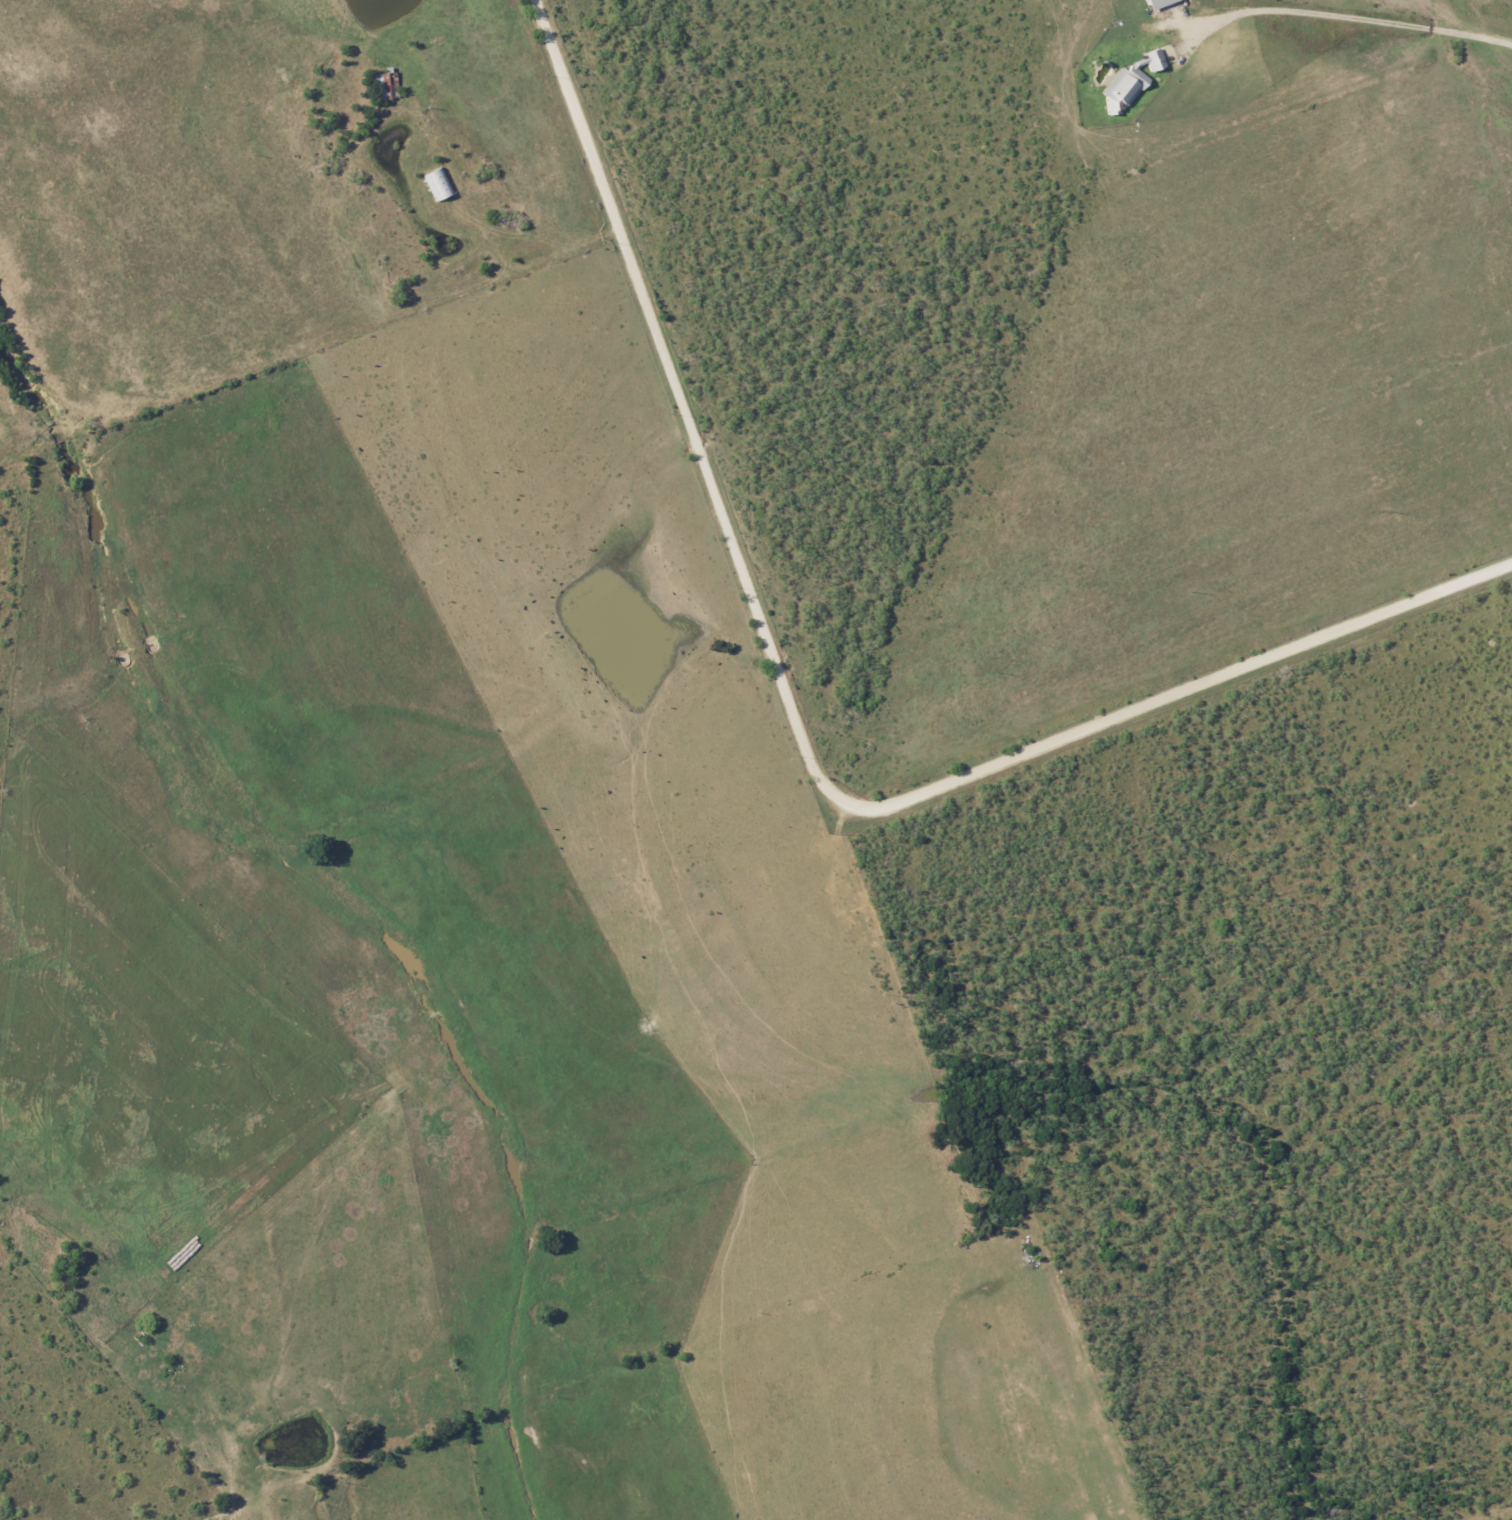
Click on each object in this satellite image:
building: (1155, 3)
building: (438, 182)
road: (316, 369)
road: (804, 740)

